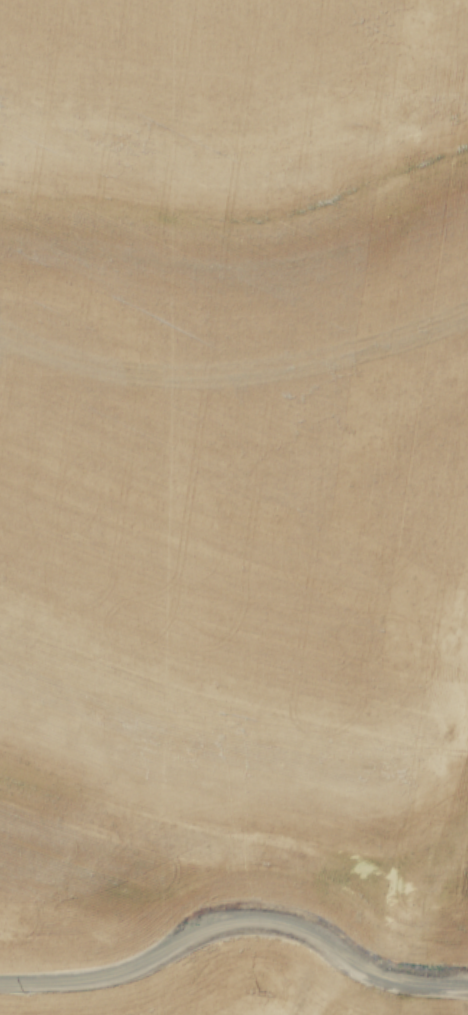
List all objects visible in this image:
road: (237, 945)

